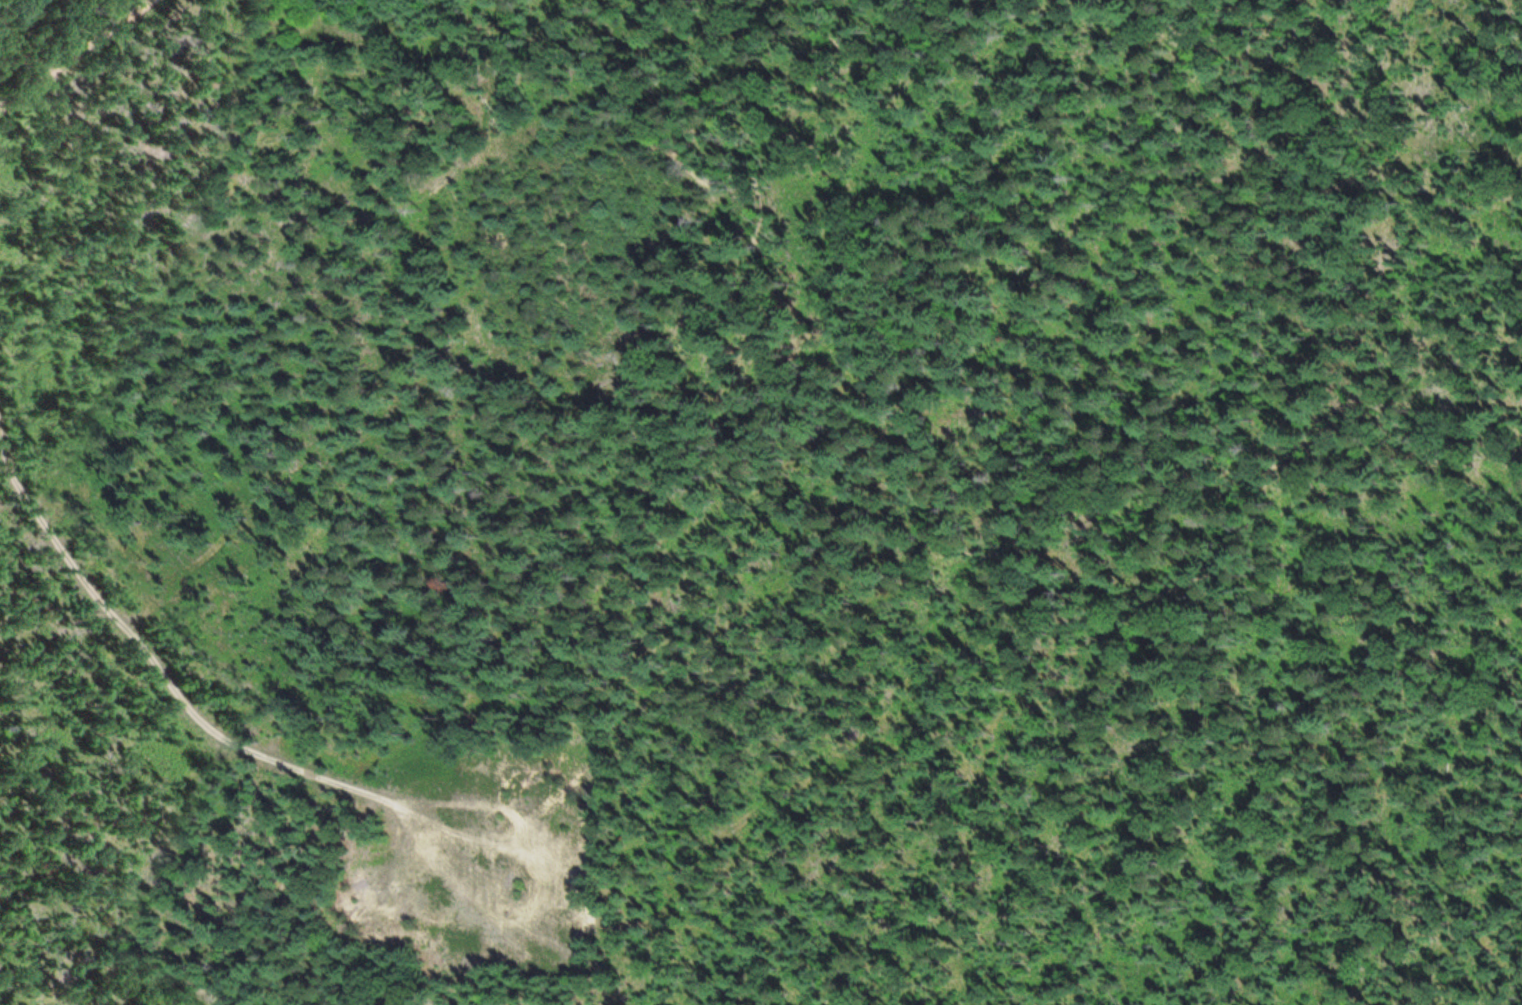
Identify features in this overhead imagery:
road: (75, 50)
road: (905, 485)
road: (152, 666)

